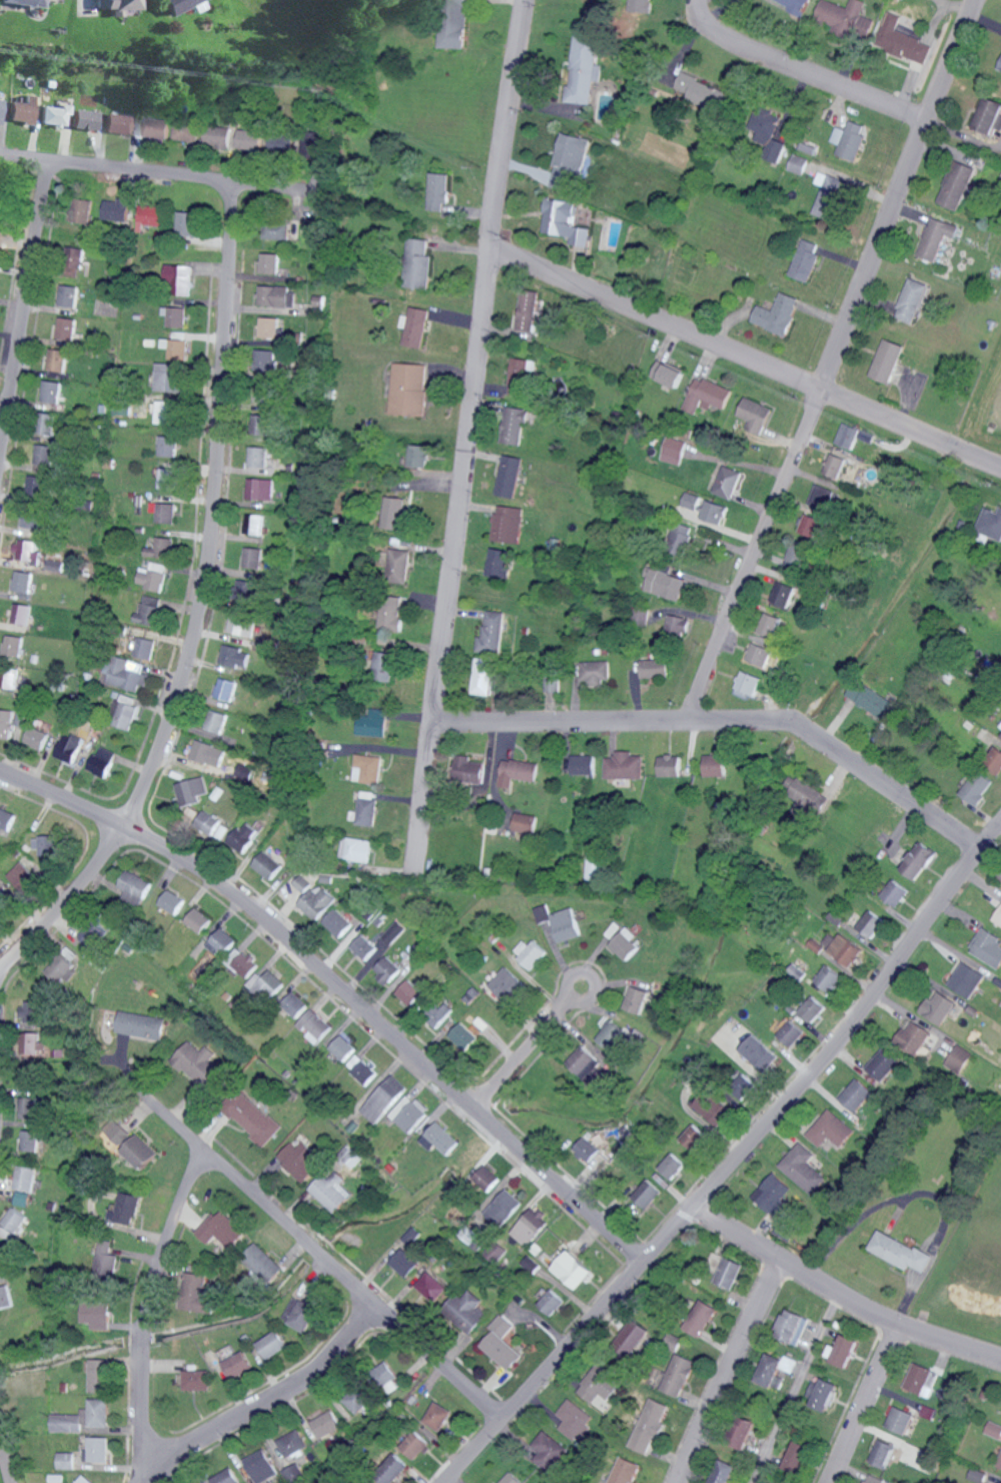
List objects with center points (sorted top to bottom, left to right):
building: (27, 2)
building: (796, 4)
building: (117, 5)
building: (180, 5)
building: (641, 5)
building: (845, 17)
building: (453, 23)
building: (904, 40)
building: (1000, 67)
building: (583, 69)
road: (802, 73)
building: (706, 93)
building: (1, 107)
building: (25, 110)
building: (57, 115)
building: (990, 115)
building: (88, 119)
building: (120, 123)
building: (154, 127)
building: (184, 132)
building: (770, 133)
building: (219, 136)
building: (247, 139)
building: (851, 139)
building: (570, 162)
building: (804, 165)
road: (151, 173)
building: (960, 184)
building: (439, 191)
building: (833, 196)
building: (82, 210)
building: (117, 210)
building: (149, 216)
building: (567, 221)
building: (187, 223)
building: (279, 229)
building: (937, 237)
building: (806, 260)
building: (76, 261)
building: (270, 263)
building: (417, 263)
building: (180, 278)
building: (68, 296)
building: (277, 296)
building: (912, 300)
road: (22, 307)
building: (529, 310)
building: (778, 314)
building: (177, 317)
building: (413, 326)
building: (269, 327)
building: (65, 331)
building: (178, 349)
road: (833, 358)
building: (57, 360)
building: (264, 360)
road: (745, 360)
building: (888, 361)
building: (668, 373)
building: (168, 377)
building: (520, 377)
building: (407, 389)
building: (53, 390)
building: (266, 393)
building: (706, 395)
building: (166, 413)
building: (755, 415)
building: (49, 424)
building: (264, 425)
building: (514, 425)
building: (849, 436)
road: (464, 438)
building: (167, 446)
building: (674, 450)
building: (258, 456)
building: (418, 456)
building: (45, 458)
building: (836, 463)
building: (508, 476)
building: (167, 478)
building: (728, 482)
building: (37, 488)
building: (259, 489)
building: (823, 498)
building: (707, 508)
building: (166, 513)
building: (394, 513)
building: (33, 522)
building: (991, 523)
building: (252, 524)
building: (507, 524)
building: (811, 526)
building: (681, 538)
building: (160, 548)
building: (27, 550)
building: (799, 553)
building: (251, 557)
building: (498, 563)
building: (55, 565)
building: (398, 565)
building: (152, 576)
building: (23, 581)
building: (665, 584)
building: (244, 591)
building: (784, 594)
building: (151, 597)
road: (197, 605)
building: (21, 614)
building: (147, 615)
building: (391, 615)
building: (235, 623)
building: (678, 625)
building: (770, 625)
building: (492, 633)
building: (12, 646)
building: (141, 647)
building: (759, 654)
building: (233, 657)
building: (384, 667)
building: (655, 669)
building: (594, 671)
building: (125, 674)
building: (484, 676)
building: (7, 679)
building: (551, 680)
building: (748, 684)
building: (223, 689)
building: (872, 701)
building: (121, 711)
road: (727, 719)
building: (213, 721)
building: (9, 722)
building: (373, 723)
building: (35, 738)
building: (67, 747)
building: (205, 753)
building: (994, 761)
building: (99, 762)
building: (583, 765)
building: (715, 765)
building: (624, 766)
building: (670, 766)
building: (368, 769)
building: (469, 770)
building: (517, 772)
building: (977, 788)
building: (188, 791)
building: (810, 795)
building: (367, 808)
building: (6, 818)
building: (206, 823)
building: (525, 824)
building: (242, 837)
building: (46, 845)
building: (356, 850)
building: (918, 861)
building: (266, 865)
building: (22, 877)
building: (133, 886)
building: (894, 893)
building: (311, 897)
building: (1, 899)
building: (171, 902)
building: (541, 914)
building: (835, 919)
building: (998, 919)
building: (197, 920)
building: (337, 923)
building: (565, 925)
building: (871, 925)
building: (613, 930)
building: (388, 936)
building: (220, 943)
building: (625, 944)
building: (815, 946)
building: (363, 947)
building: (987, 948)
building: (843, 950)
road: (553, 952)
building: (530, 953)
building: (242, 962)
building: (387, 970)
building: (61, 971)
building: (964, 977)
building: (829, 979)
building: (266, 983)
building: (508, 985)
road: (342, 989)
building: (410, 993)
building: (636, 1000)
building: (295, 1005)
building: (937, 1008)
building: (812, 1009)
building: (31, 1011)
road: (553, 1015)
building: (140, 1025)
building: (314, 1026)
building: (789, 1032)
building: (463, 1037)
building: (613, 1037)
building: (912, 1037)
building: (32, 1046)
building: (343, 1048)
building: (759, 1053)
building: (958, 1057)
building: (200, 1065)
building: (880, 1066)
building: (587, 1067)
building: (362, 1068)
building: (742, 1087)
building: (855, 1097)
building: (383, 1098)
building: (29, 1107)
building: (709, 1108)
building: (409, 1113)
building: (250, 1115)
building: (830, 1130)
building: (694, 1136)
building: (440, 1138)
building: (30, 1140)
building: (110, 1143)
building: (130, 1143)
building: (587, 1149)
building: (349, 1156)
building: (299, 1160)
road: (734, 1162)
building: (673, 1165)
building: (804, 1170)
building: (25, 1177)
building: (486, 1177)
building: (774, 1190)
building: (330, 1191)
building: (646, 1191)
building: (22, 1198)
building: (126, 1207)
building: (503, 1207)
building: (14, 1219)
building: (530, 1226)
building: (222, 1229)
building: (786, 1230)
building: (468, 1233)
building: (900, 1251)
building: (5, 1253)
road: (321, 1255)
building: (263, 1262)
building: (405, 1262)
park: (969, 1264)
building: (572, 1269)
building: (730, 1272)
building: (431, 1286)
building: (195, 1293)
road: (841, 1295)
building: (5, 1296)
building: (552, 1302)
road: (143, 1310)
building: (465, 1310)
building: (96, 1314)
building: (303, 1315)
building: (702, 1317)
building: (794, 1325)
building: (636, 1335)
building: (677, 1341)
building: (273, 1343)
building: (502, 1343)
building: (844, 1350)
building: (238, 1365)
building: (777, 1368)
road: (728, 1371)
building: (681, 1374)
building: (99, 1375)
building: (196, 1379)
building: (385, 1379)
building: (920, 1379)
building: (601, 1388)
road: (796, 1388)
building: (823, 1392)
building: (358, 1398)
road: (863, 1402)
road: (271, 1403)
building: (438, 1415)
building: (82, 1416)
building: (577, 1418)
building: (901, 1419)
building: (326, 1424)
building: (651, 1425)
building: (994, 1429)
building: (744, 1432)
building: (292, 1442)
building: (415, 1444)
building: (96, 1449)
building: (551, 1451)
building: (884, 1452)
building: (799, 1456)
building: (65, 1460)
road: (5, 1464)
building: (1000, 1465)
building: (260, 1466)
building: (392, 1469)
building: (627, 1471)
building: (725, 1472)
building: (979, 1475)
building: (225, 1477)
building: (514, 1478)
building: (84, 1479)
building: (876, 1479)

